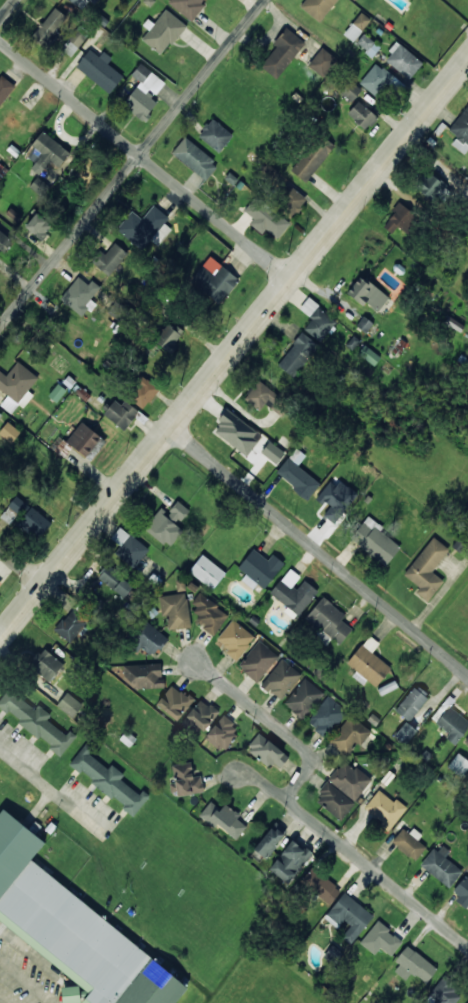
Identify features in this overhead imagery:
building: (354, 0)
building: (79, 3)
building: (187, 7)
building: (317, 7)
road: (7, 9)
building: (49, 26)
building: (357, 26)
building: (163, 32)
building: (73, 42)
building: (367, 45)
building: (282, 52)
building: (403, 60)
building: (322, 62)
building: (100, 70)
building: (376, 79)
building: (4, 91)
building: (350, 91)
building: (144, 92)
building: (361, 114)
building: (461, 131)
building: (215, 134)
building: (46, 152)
building: (195, 158)
building: (312, 158)
road: (144, 159)
road: (132, 163)
building: (88, 171)
building: (38, 185)
building: (432, 187)
building: (289, 200)
building: (13, 215)
building: (265, 217)
building: (399, 219)
building: (38, 225)
building: (145, 227)
building: (4, 242)
building: (109, 258)
building: (214, 279)
building: (367, 293)
building: (80, 295)
building: (317, 320)
building: (454, 323)
building: (364, 324)
building: (169, 335)
building: (398, 345)
road: (234, 346)
building: (297, 354)
building: (369, 355)
building: (16, 386)
building: (57, 392)
building: (143, 392)
building: (260, 396)
building: (278, 408)
building: (0, 412)
building: (120, 413)
building: (9, 431)
building: (236, 432)
building: (83, 439)
building: (273, 452)
building: (297, 474)
building: (335, 499)
building: (13, 510)
building: (34, 523)
building: (167, 523)
building: (374, 540)
building: (129, 547)
road: (318, 549)
road: (21, 564)
building: (427, 568)
building: (259, 569)
building: (207, 571)
building: (115, 581)
building: (0, 582)
building: (292, 592)
building: (175, 610)
building: (208, 614)
building: (329, 620)
building: (70, 623)
building: (323, 636)
building: (147, 638)
building: (234, 639)
building: (258, 661)
building: (368, 663)
building: (45, 664)
building: (144, 675)
building: (281, 679)
building: (303, 698)
building: (174, 702)
building: (412, 703)
building: (70, 704)
building: (199, 717)
building: (326, 717)
building: (36, 721)
road: (271, 723)
building: (453, 724)
building: (222, 732)
building: (405, 732)
building: (349, 734)
building: (466, 741)
building: (268, 752)
building: (459, 765)
road: (259, 778)
building: (107, 779)
building: (349, 779)
building: (185, 780)
building: (334, 800)
building: (385, 809)
building: (223, 818)
building: (269, 841)
building: (410, 842)
building: (290, 861)
building: (441, 865)
road: (376, 872)
building: (320, 886)
building: (462, 890)
building: (349, 916)
building: (74, 929)
building: (380, 939)
building: (413, 965)
building: (444, 993)
building: (71, 994)
building: (467, 1002)

